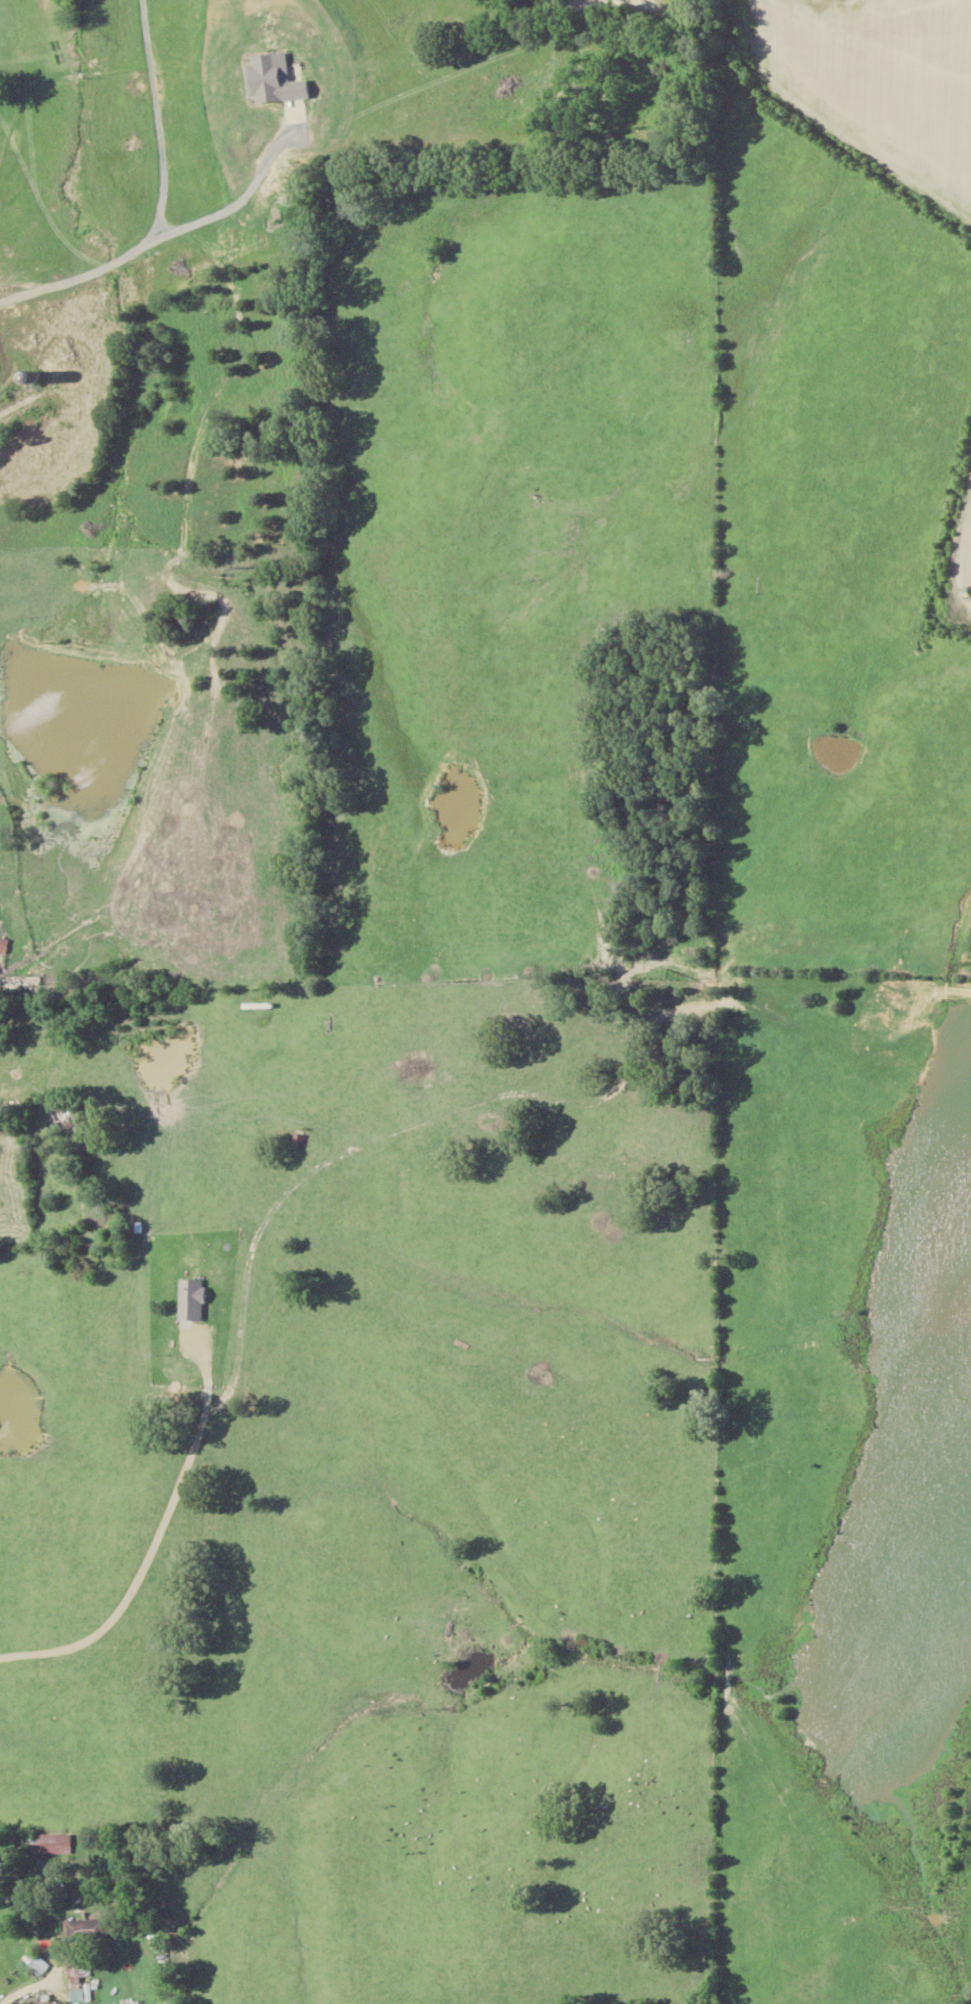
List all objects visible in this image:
building: (265, 66)
road: (31, 1135)
building: (297, 1136)
building: (44, 1843)
building: (83, 1930)
building: (33, 1964)
road: (3, 1996)

